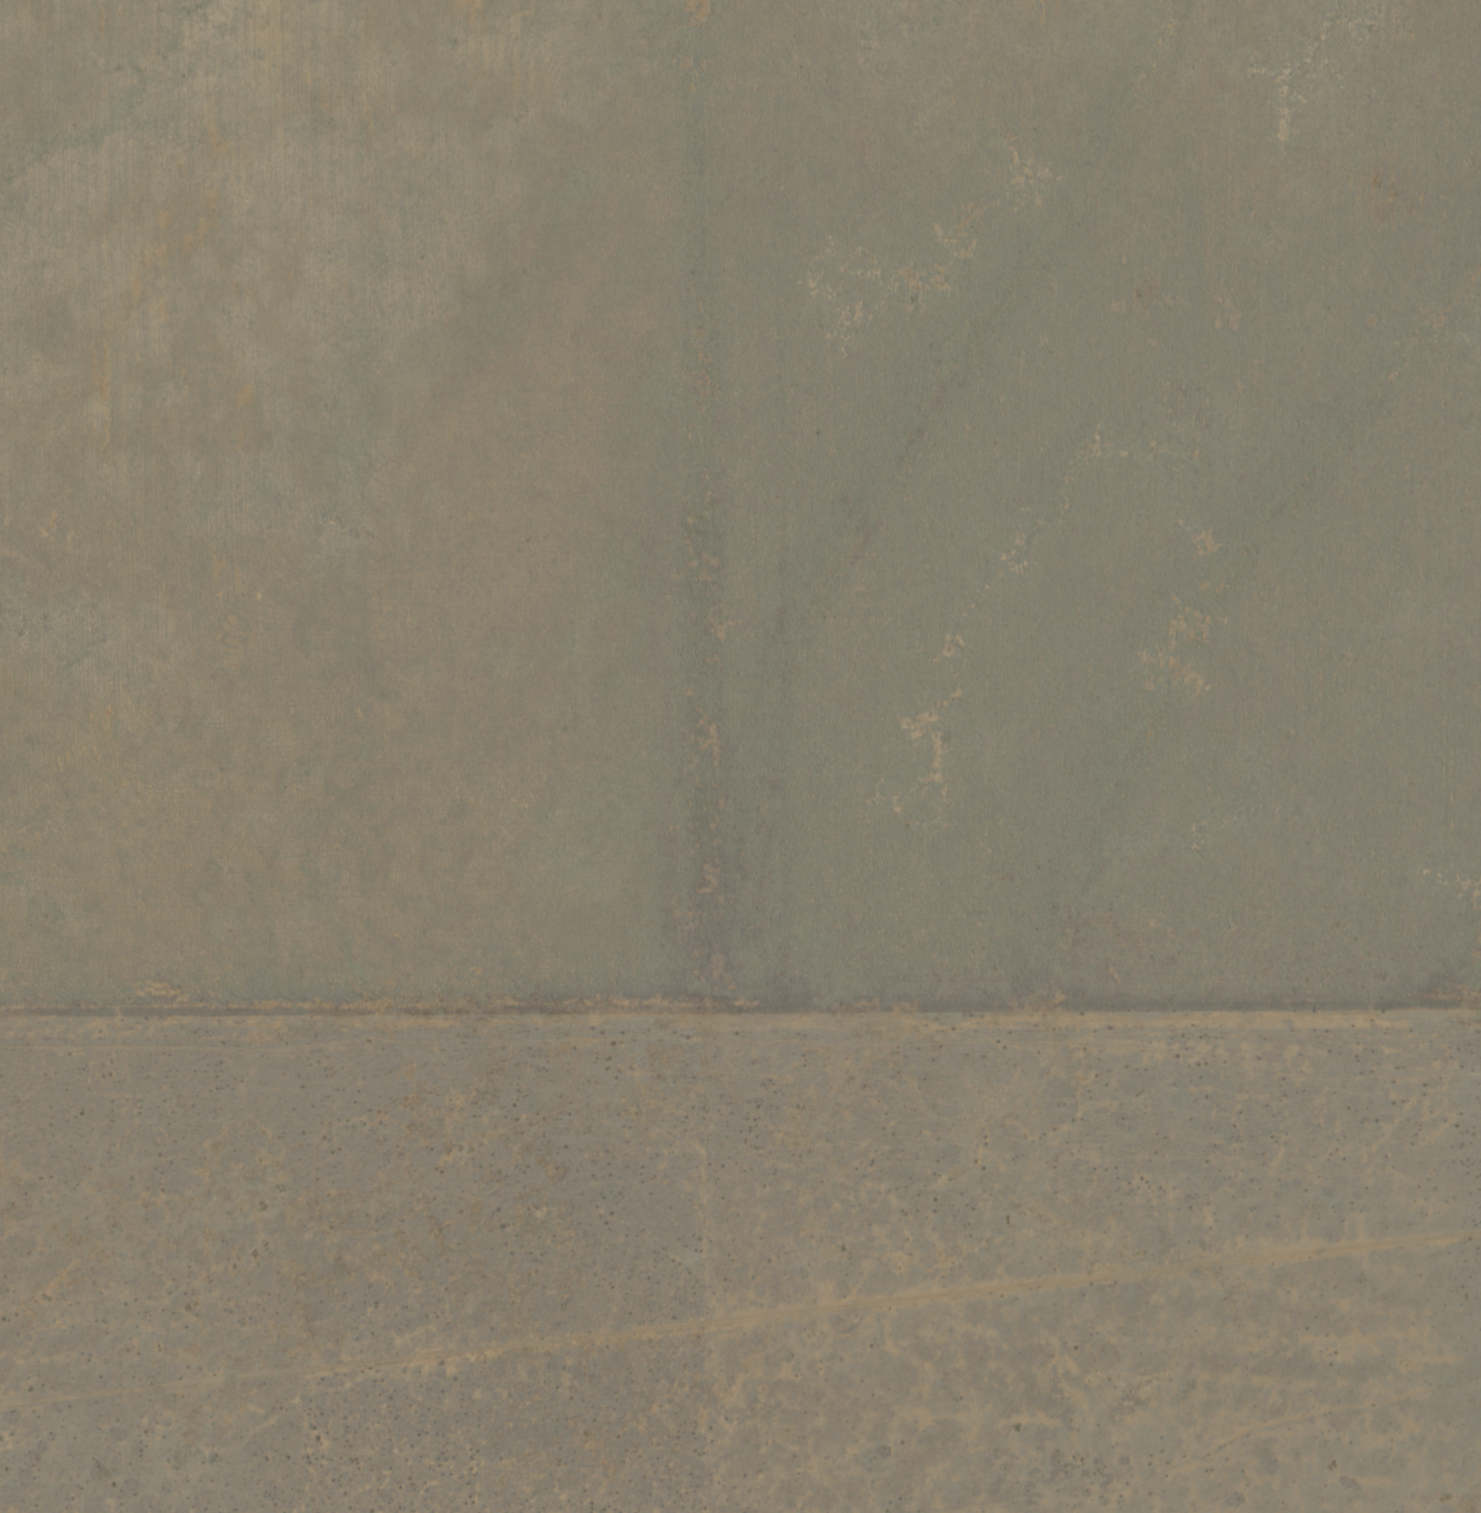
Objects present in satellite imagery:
road: (742, 1069)

